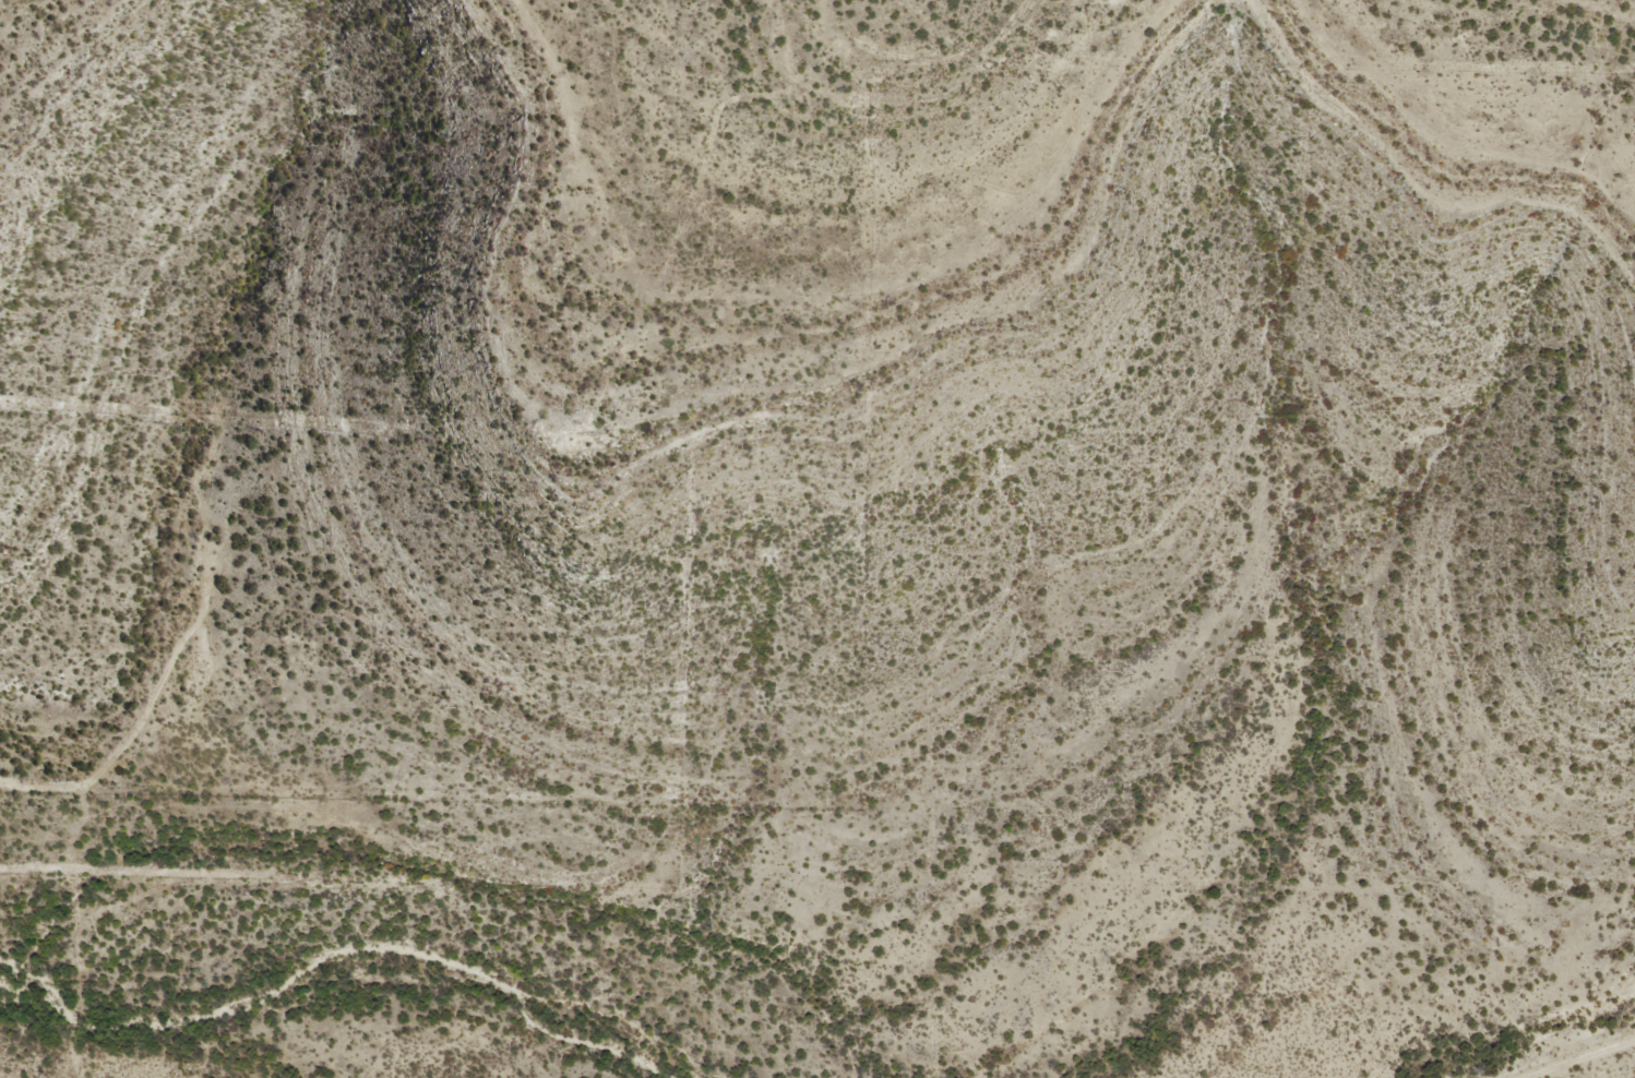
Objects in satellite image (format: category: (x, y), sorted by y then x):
road: (1594, 1064)

